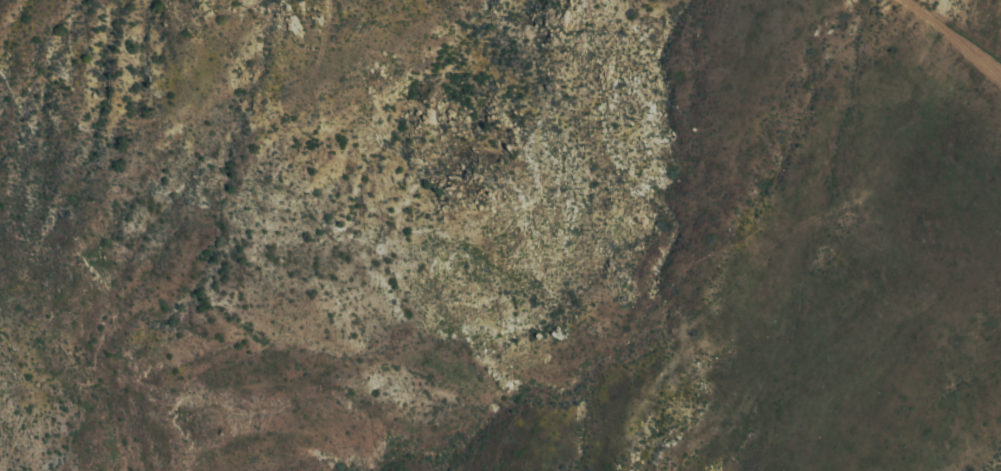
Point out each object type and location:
road: (951, 38)

